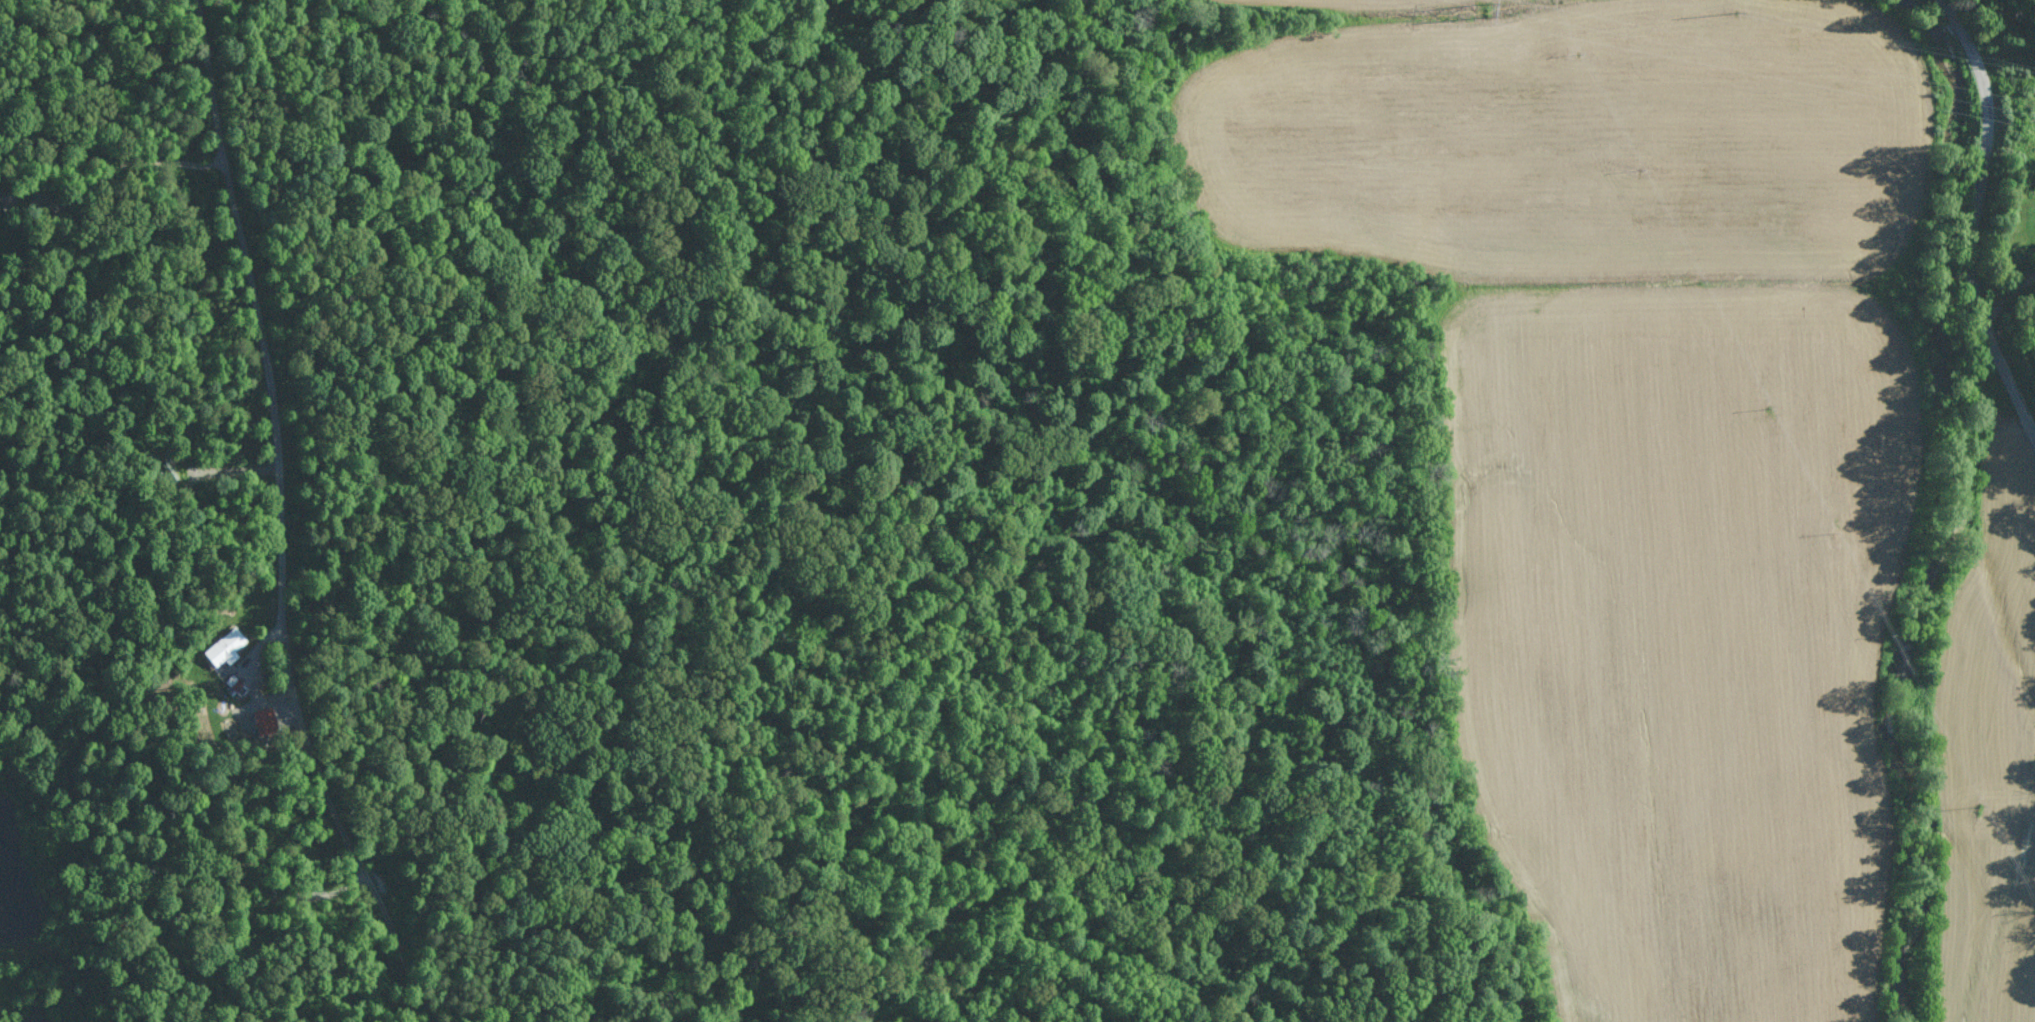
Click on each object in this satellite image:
power tower: (1496, 5)
power tower: (1747, 9)
power tower: (2015, 57)
road: (143, 160)
road: (1978, 213)
road: (287, 520)
building: (224, 647)
building: (264, 719)

